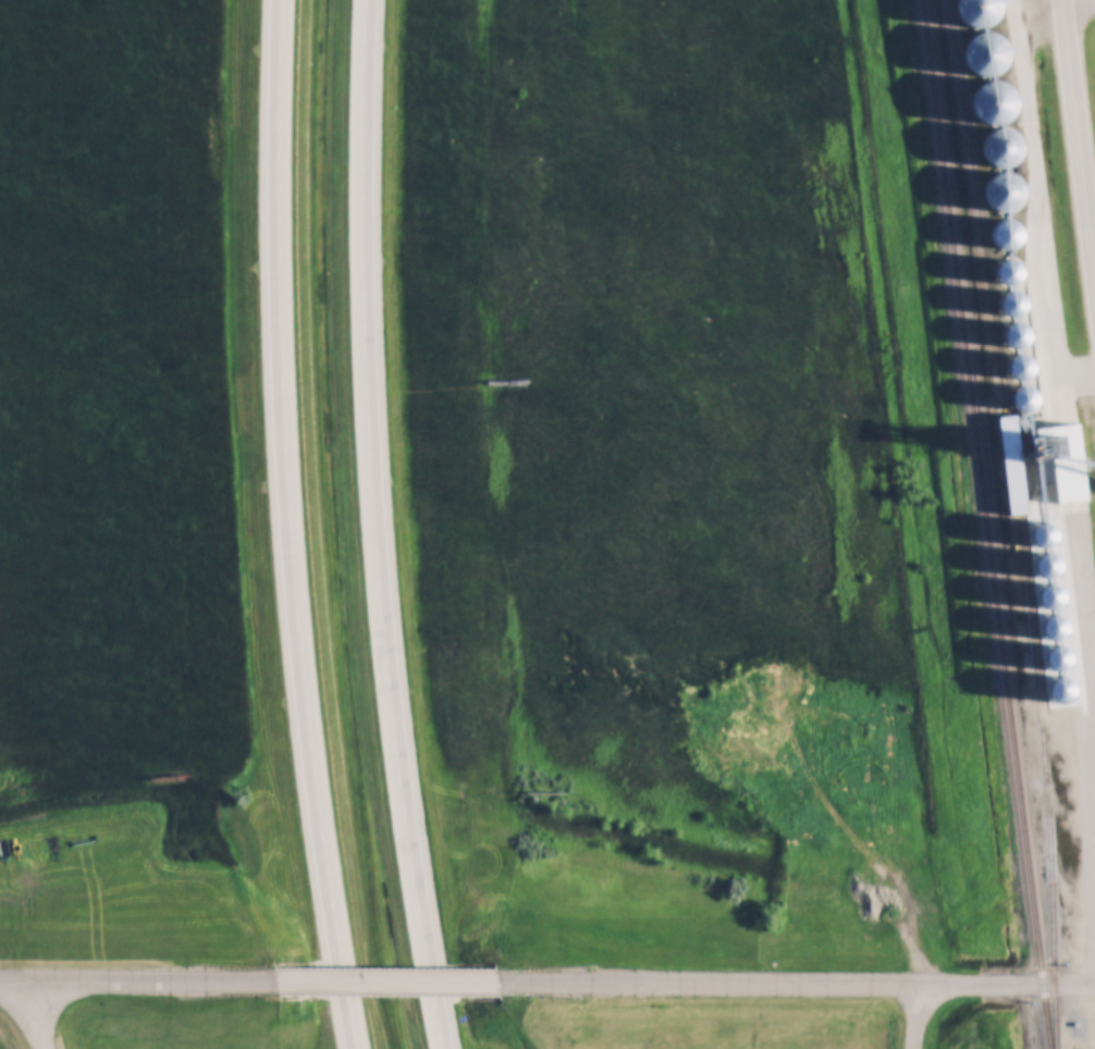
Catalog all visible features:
building: (976, 12)
silo: (976, 12)
building: (983, 57)
silo: (983, 57)
building: (989, 104)
silo: (989, 104)
road: (1079, 125)
building: (997, 149)
silo: (997, 149)
building: (1000, 194)
silo: (1000, 194)
building: (1006, 235)
silo: (1006, 235)
building: (1009, 273)
silo: (1009, 273)
building: (1012, 305)
silo: (1012, 305)
building: (1016, 337)
silo: (1016, 337)
building: (1020, 369)
silo: (1020, 369)
building: (1023, 399)
silo: (1023, 399)
building: (1063, 466)
building: (1019, 468)
building: (1041, 507)
silo: (1041, 507)
building: (1043, 521)
silo: (1043, 521)
railway: (1013, 522)
railway: (984, 523)
road: (287, 526)
road: (373, 527)
building: (1044, 536)
silo: (1044, 536)
building: (1045, 551)
silo: (1045, 551)
building: (1047, 566)
silo: (1047, 566)
building: (1049, 581)
silo: (1049, 581)
building: (1051, 595)
silo: (1051, 595)
building: (1053, 610)
silo: (1053, 610)
building: (1056, 635)
silo: (1056, 635)
building: (1060, 669)
silo: (1060, 669)
road: (138, 980)
road: (389, 980)
road: (797, 984)
road: (32, 1014)
road: (914, 1016)

